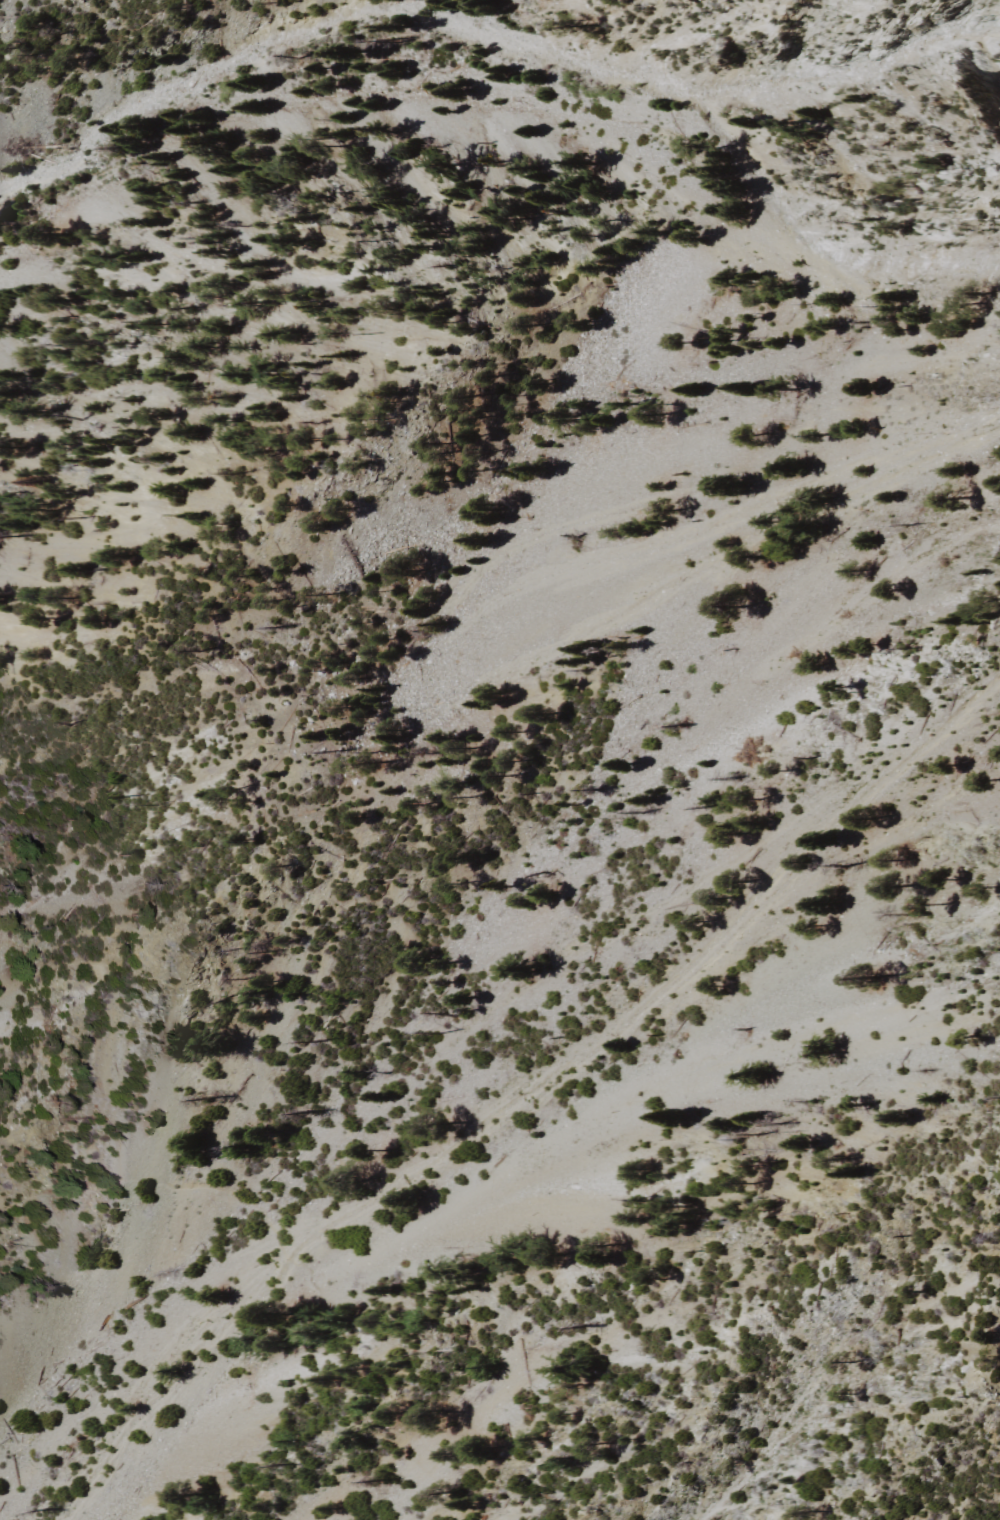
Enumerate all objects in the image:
road: (288, 1259)

